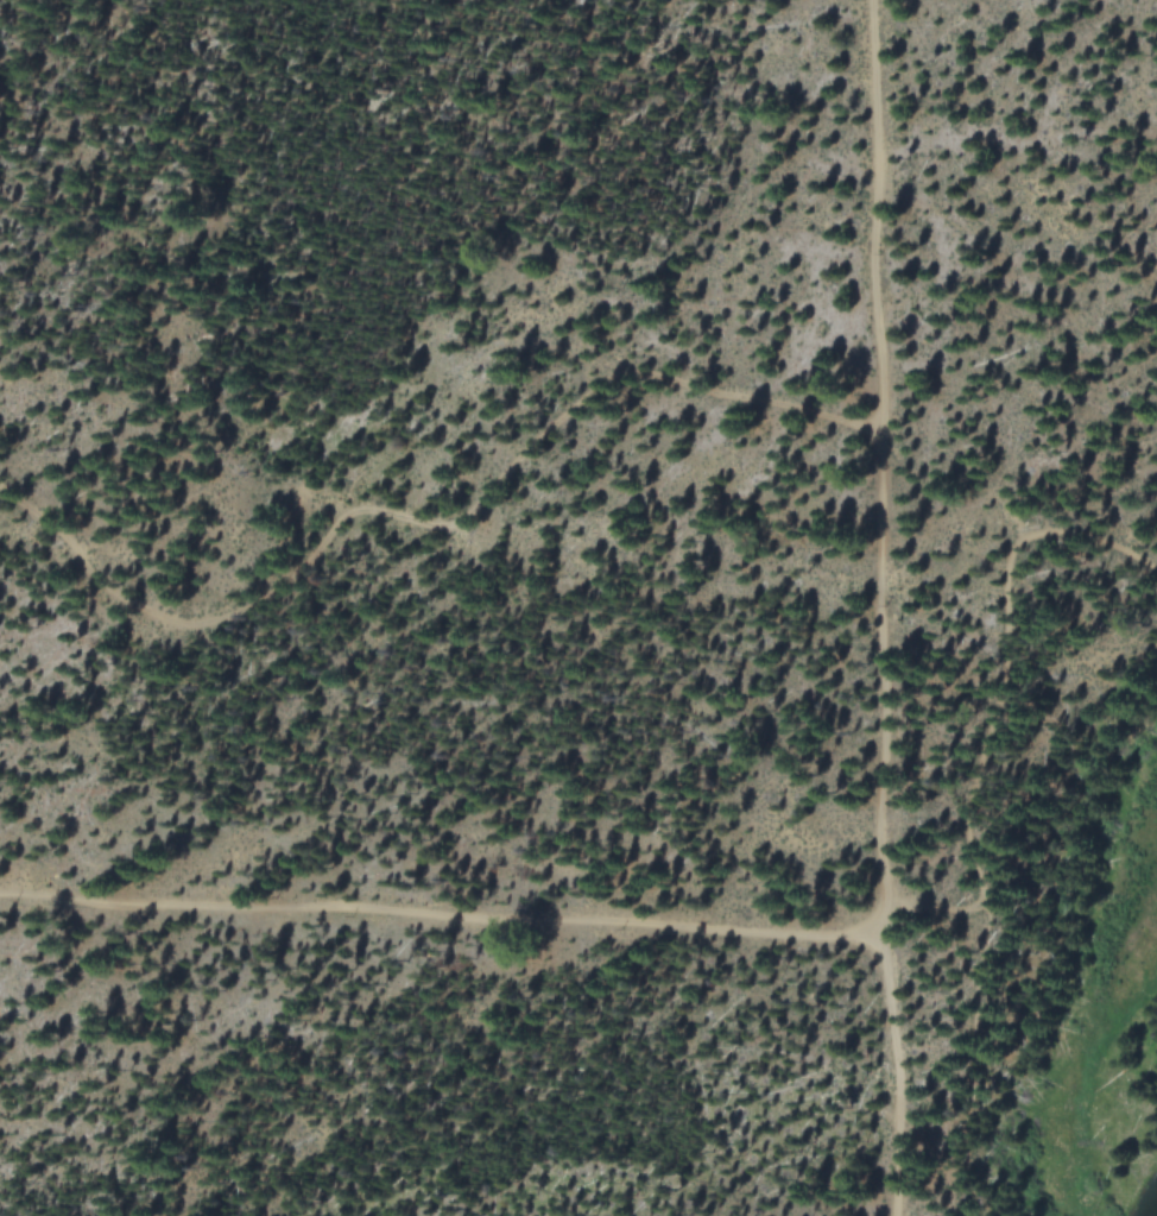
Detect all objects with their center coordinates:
road: (436, 523)
road: (883, 607)
road: (975, 808)
road: (942, 907)
road: (447, 921)

